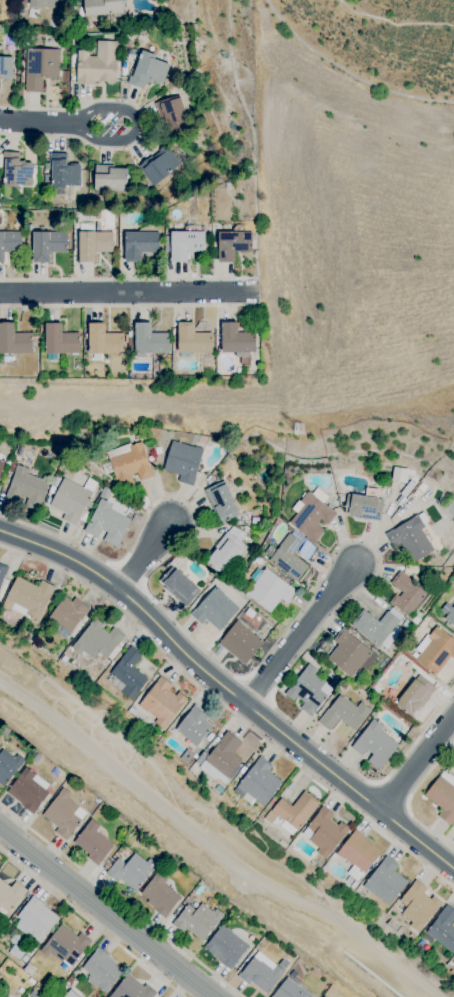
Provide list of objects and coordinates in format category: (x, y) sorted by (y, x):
building: (43, 3)
building: (102, 6)
building: (97, 63)
building: (5, 66)
building: (40, 66)
building: (148, 70)
building: (171, 113)
road: (37, 121)
road: (130, 134)
building: (158, 164)
building: (16, 170)
building: (63, 170)
building: (110, 177)
building: (9, 241)
building: (93, 243)
building: (185, 243)
building: (47, 244)
building: (139, 244)
building: (232, 244)
road: (127, 290)
building: (192, 338)
building: (13, 339)
building: (59, 339)
building: (103, 339)
building: (150, 339)
building: (236, 339)
power tower: (301, 429)
building: (182, 460)
building: (129, 463)
building: (1, 464)
building: (399, 474)
building: (25, 485)
building: (70, 500)
building: (221, 501)
building: (363, 506)
building: (311, 514)
building: (107, 521)
building: (410, 537)
building: (226, 548)
road: (152, 551)
building: (288, 557)
building: (2, 571)
building: (178, 585)
building: (269, 590)
building: (406, 593)
building: (28, 597)
building: (214, 609)
building: (447, 611)
building: (68, 612)
building: (377, 626)
road: (311, 630)
building: (97, 640)
building: (240, 641)
building: (435, 649)
building: (348, 652)
building: (127, 673)
road: (236, 684)
building: (308, 689)
building: (414, 695)
building: (161, 701)
building: (343, 713)
building: (194, 725)
building: (375, 743)
building: (225, 755)
building: (7, 765)
road: (416, 765)
building: (208, 769)
building: (257, 782)
building: (28, 788)
building: (443, 796)
building: (295, 809)
building: (63, 813)
building: (324, 831)
building: (92, 841)
road: (212, 848)
building: (358, 850)
building: (131, 870)
building: (355, 872)
building: (385, 880)
building: (159, 894)
building: (8, 896)
building: (418, 904)
road: (106, 913)
building: (35, 919)
building: (197, 920)
building: (443, 927)
building: (65, 945)
building: (225, 946)
building: (101, 970)
building: (260, 972)
building: (131, 988)
building: (289, 989)

